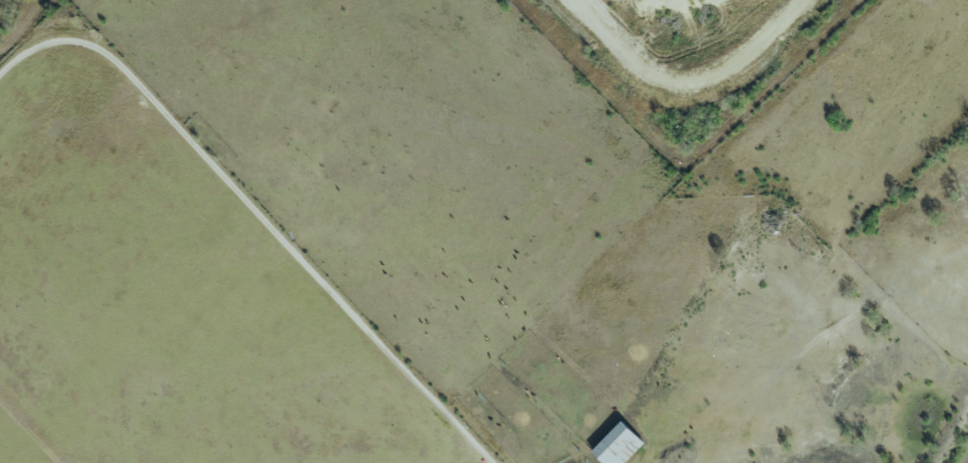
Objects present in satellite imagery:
landfill: (691, 61)
road: (684, 84)
road: (260, 213)
building: (616, 445)

